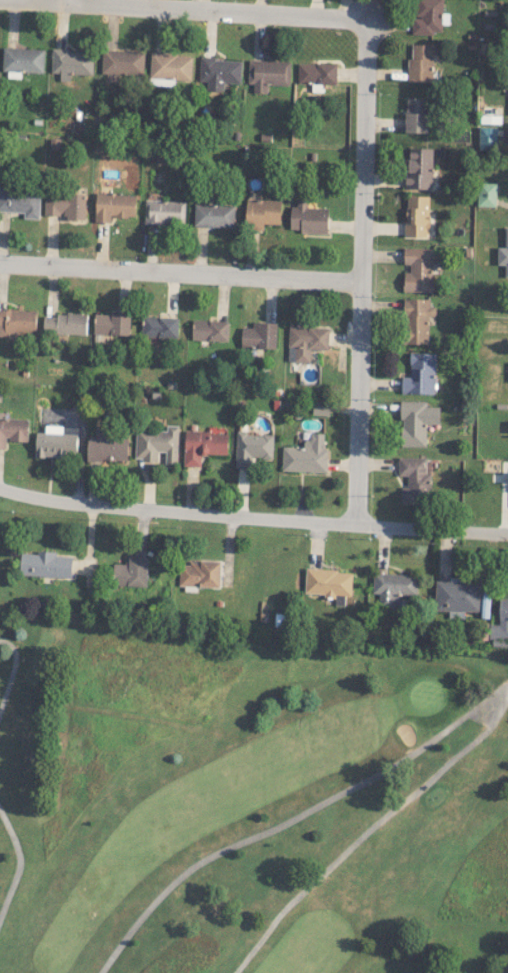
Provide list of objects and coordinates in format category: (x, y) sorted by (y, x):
road: (224, 8)
building: (427, 17)
building: (22, 60)
building: (122, 61)
building: (72, 62)
building: (421, 63)
building: (170, 68)
building: (219, 72)
building: (317, 72)
building: (267, 73)
building: (416, 114)
building: (487, 137)
building: (419, 168)
building: (486, 194)
building: (20, 201)
building: (65, 205)
building: (114, 206)
building: (164, 211)
building: (262, 213)
building: (214, 215)
building: (417, 216)
building: (308, 217)
building: (503, 253)
road: (360, 268)
building: (418, 269)
road: (180, 270)
building: (417, 320)
building: (17, 321)
building: (64, 323)
building: (112, 324)
building: (160, 326)
building: (210, 330)
building: (260, 335)
building: (306, 342)
building: (420, 374)
building: (416, 421)
building: (13, 430)
building: (56, 442)
building: (157, 444)
building: (204, 445)
building: (107, 447)
building: (252, 448)
building: (306, 455)
building: (414, 480)
building: (507, 480)
road: (252, 516)
building: (46, 564)
building: (131, 572)
building: (199, 574)
building: (329, 583)
building: (393, 587)
building: (457, 597)
building: (500, 625)
park: (250, 800)

